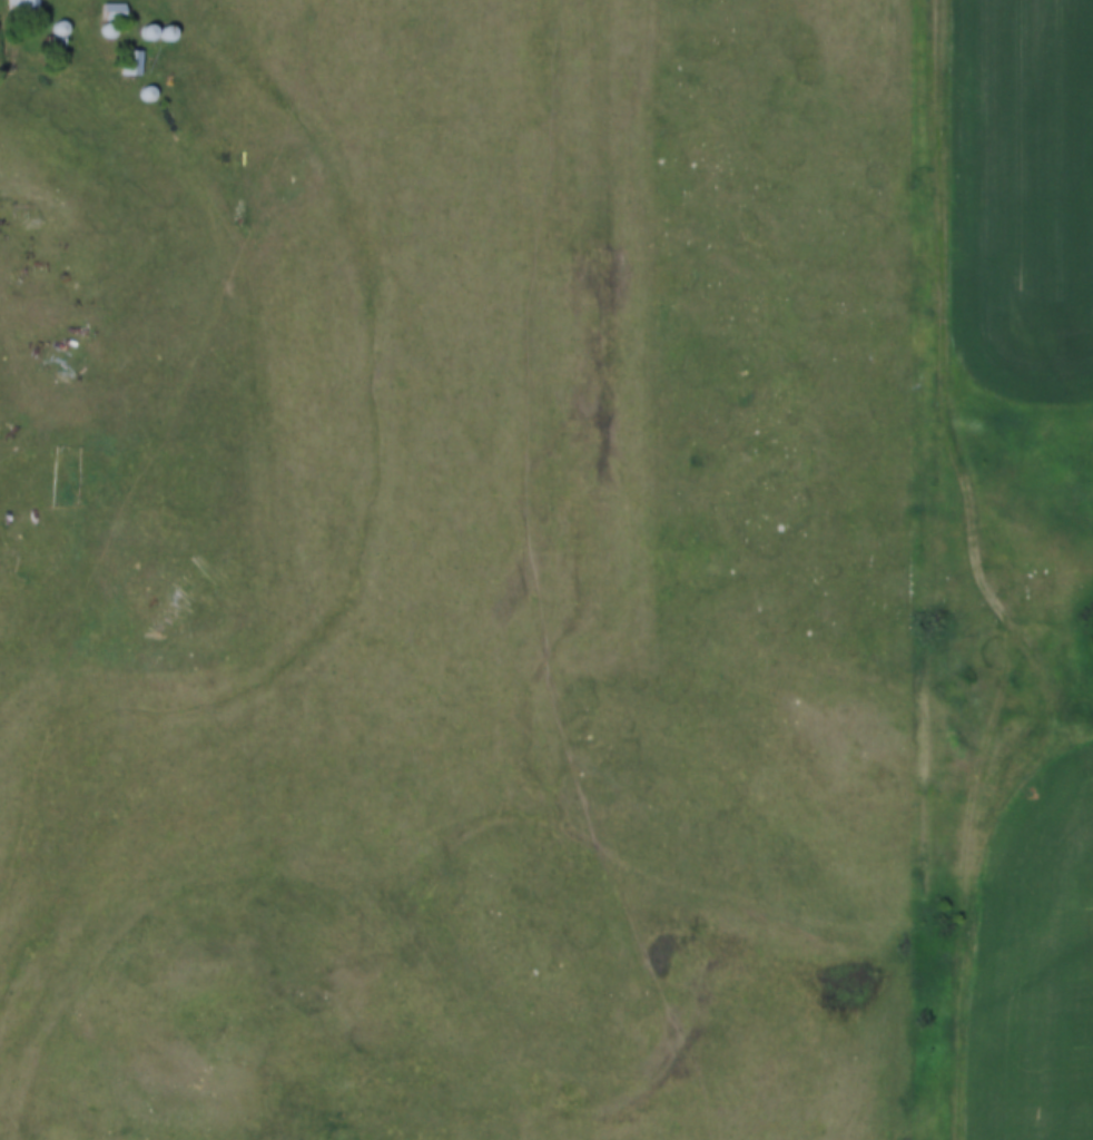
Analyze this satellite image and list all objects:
building: (21, 9)
building: (111, 12)
building: (55, 49)
building: (131, 63)
road: (199, 350)

